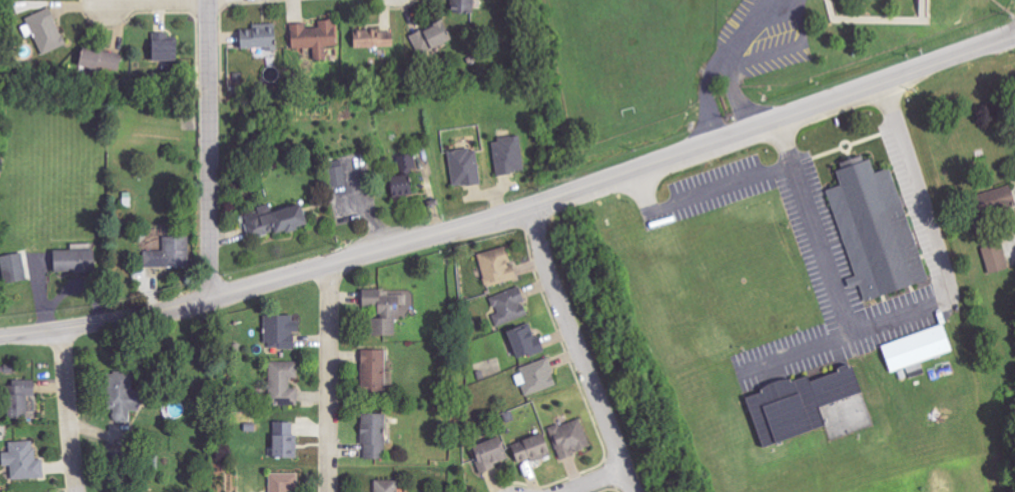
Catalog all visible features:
road: (118, 0)
building: (462, 6)
road: (770, 8)
building: (46, 31)
building: (314, 36)
building: (432, 36)
building: (259, 37)
building: (372, 39)
building: (164, 50)
road: (732, 54)
building: (100, 59)
parking lot: (751, 60)
road: (709, 93)
road: (862, 138)
road: (209, 149)
road: (843, 149)
road: (823, 152)
building: (508, 155)
building: (464, 167)
building: (338, 176)
building: (401, 176)
road: (697, 194)
building: (990, 199)
road: (515, 212)
building: (272, 220)
building: (875, 229)
building: (169, 253)
building: (994, 257)
building: (73, 260)
building: (497, 266)
building: (13, 267)
building: (510, 307)
building: (387, 308)
road: (898, 314)
building: (279, 331)
building: (525, 340)
building: (918, 347)
road: (577, 351)
road: (791, 352)
building: (8, 369)
building: (373, 373)
road: (331, 377)
building: (537, 377)
building: (283, 383)
building: (18, 397)
building: (119, 397)
building: (799, 401)
road: (67, 410)
building: (372, 436)
building: (570, 438)
building: (283, 441)
building: (531, 449)
building: (488, 454)
building: (23, 461)
building: (115, 466)
road: (593, 481)
building: (283, 482)
building: (385, 486)

